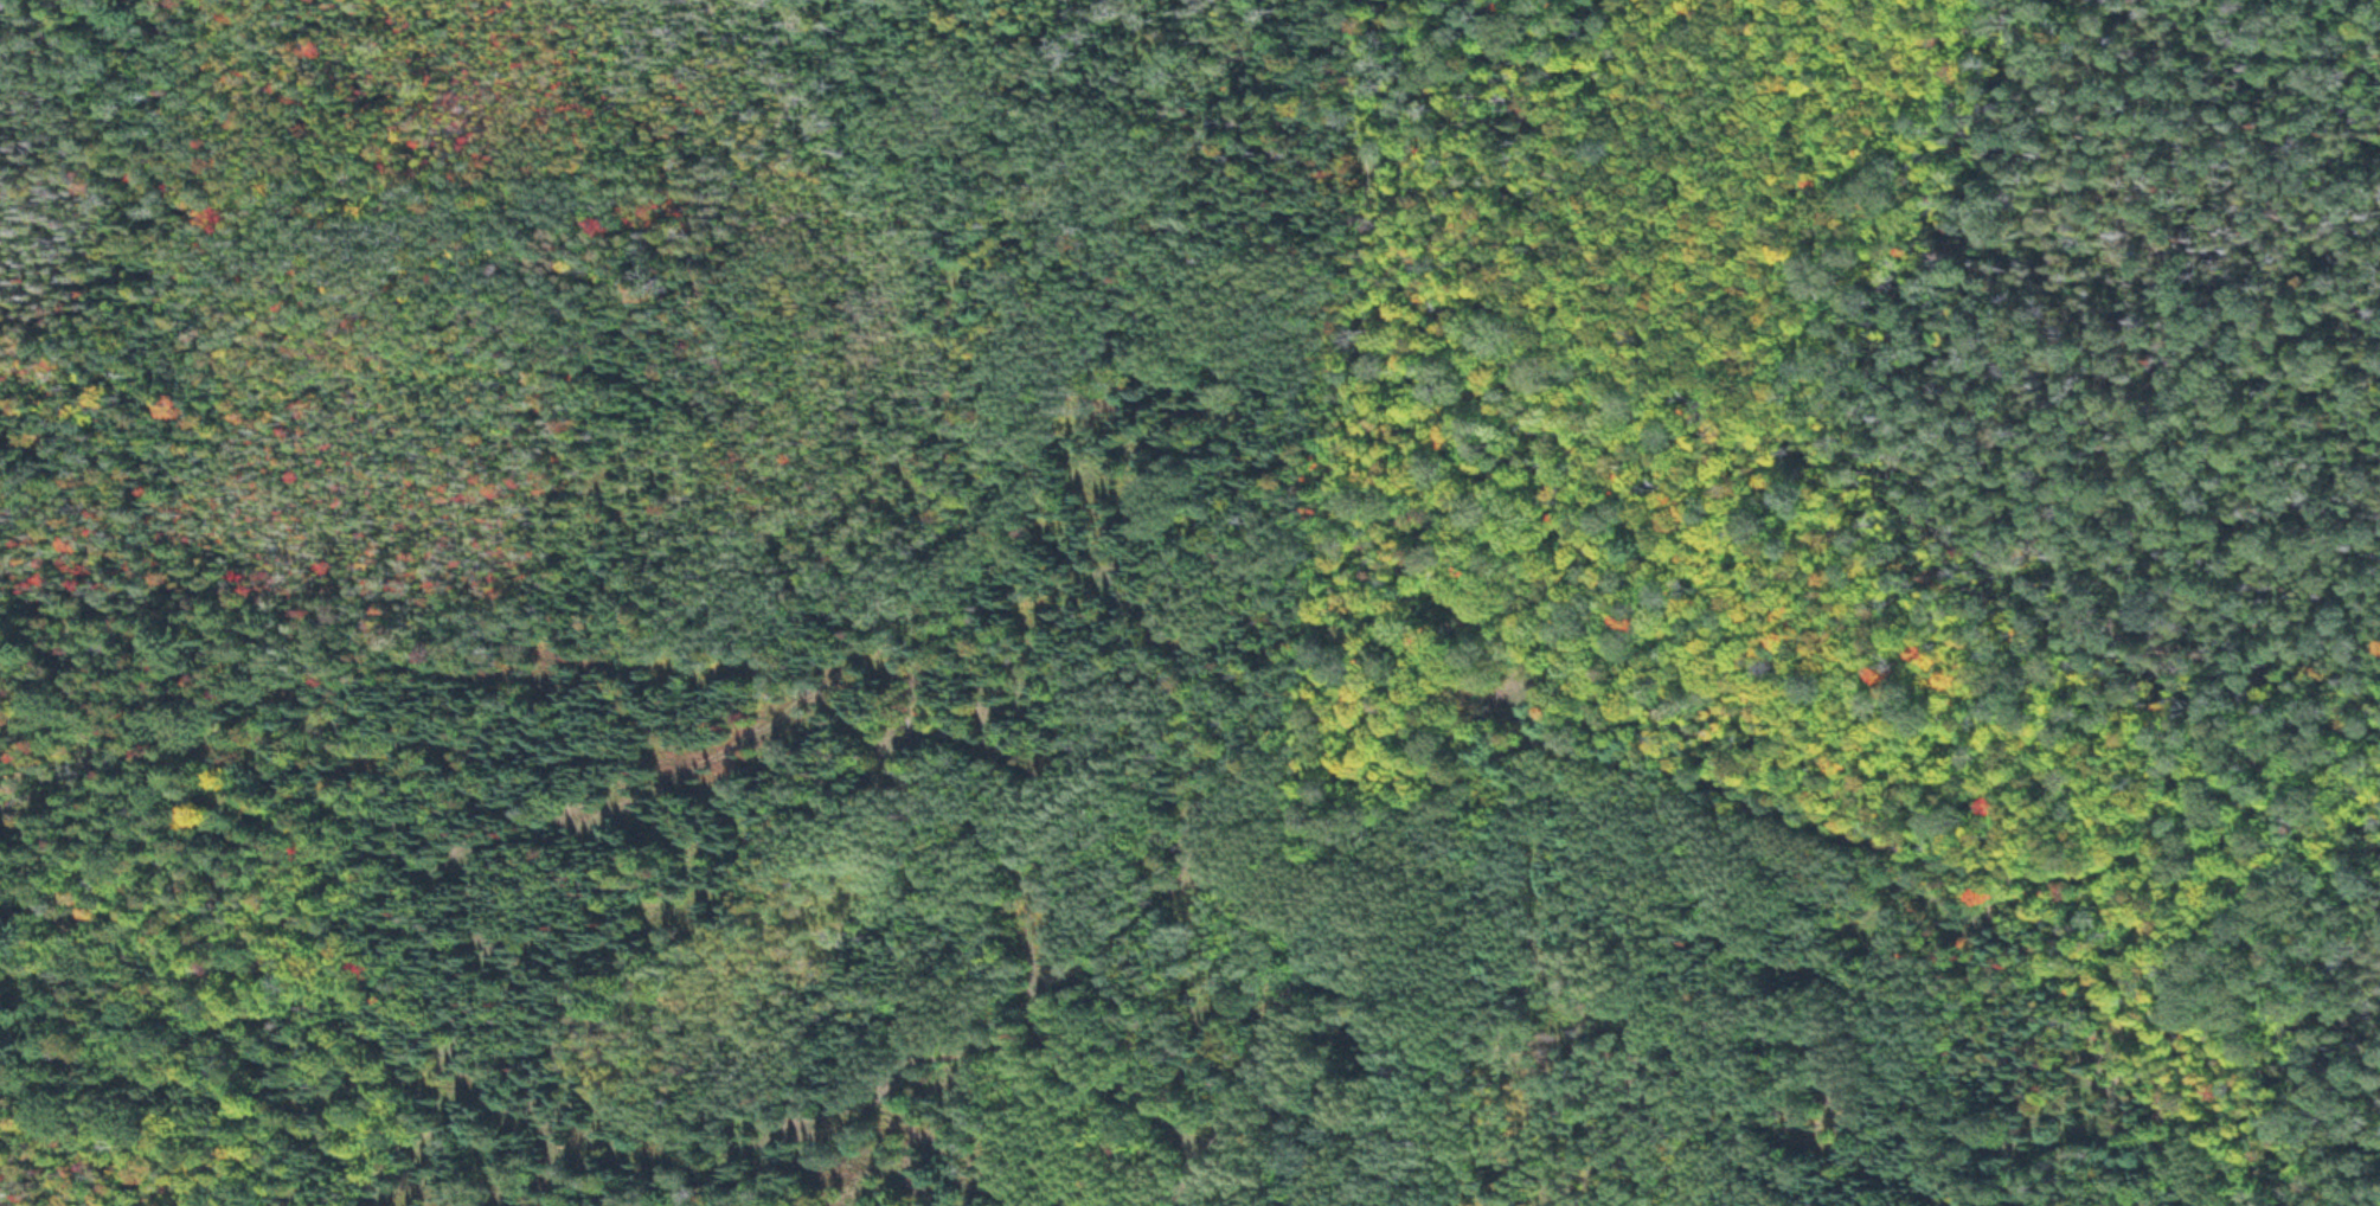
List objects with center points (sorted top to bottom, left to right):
road: (1316, 621)
road: (40, 1153)

